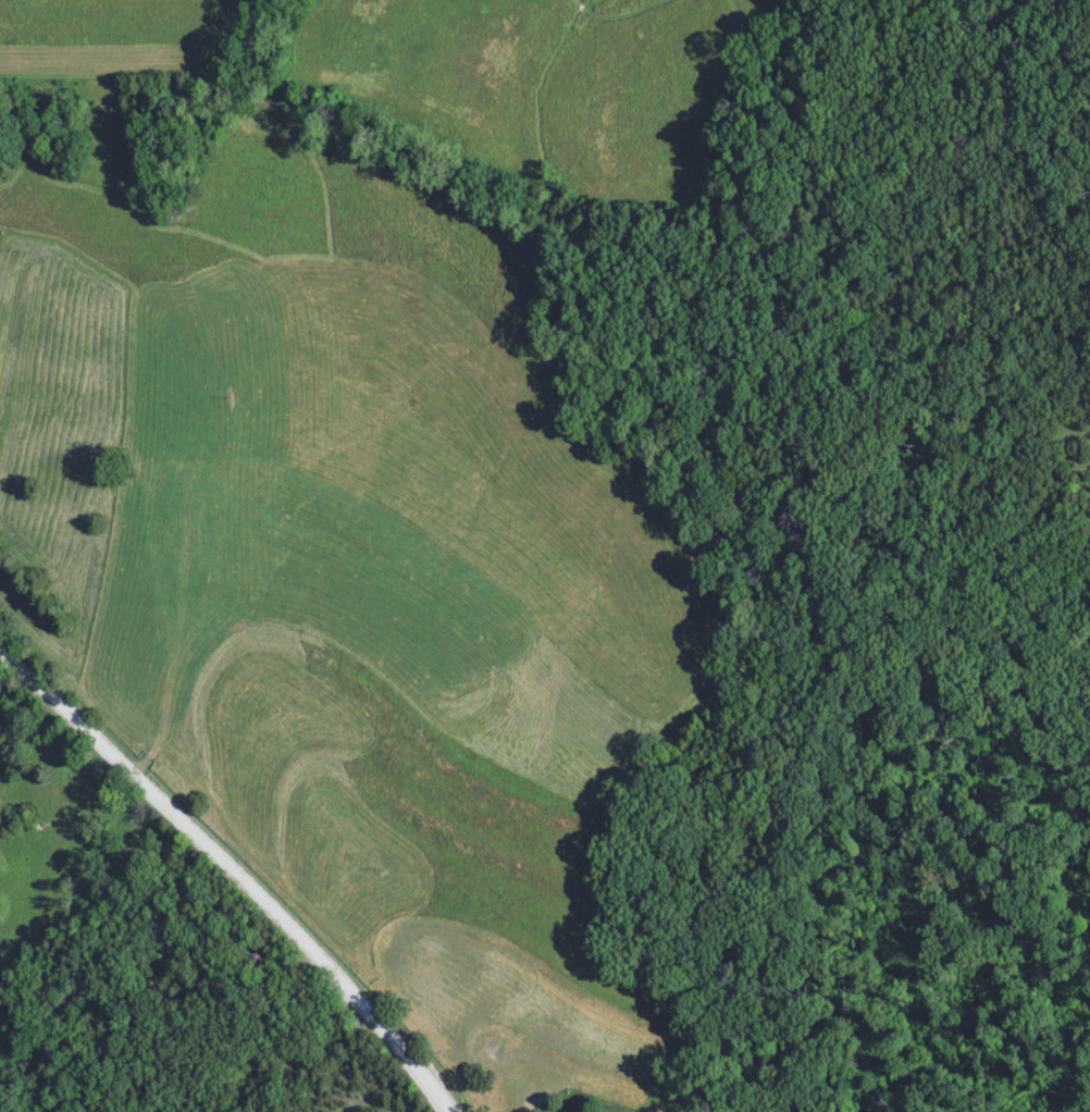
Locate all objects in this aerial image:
road: (234, 872)

